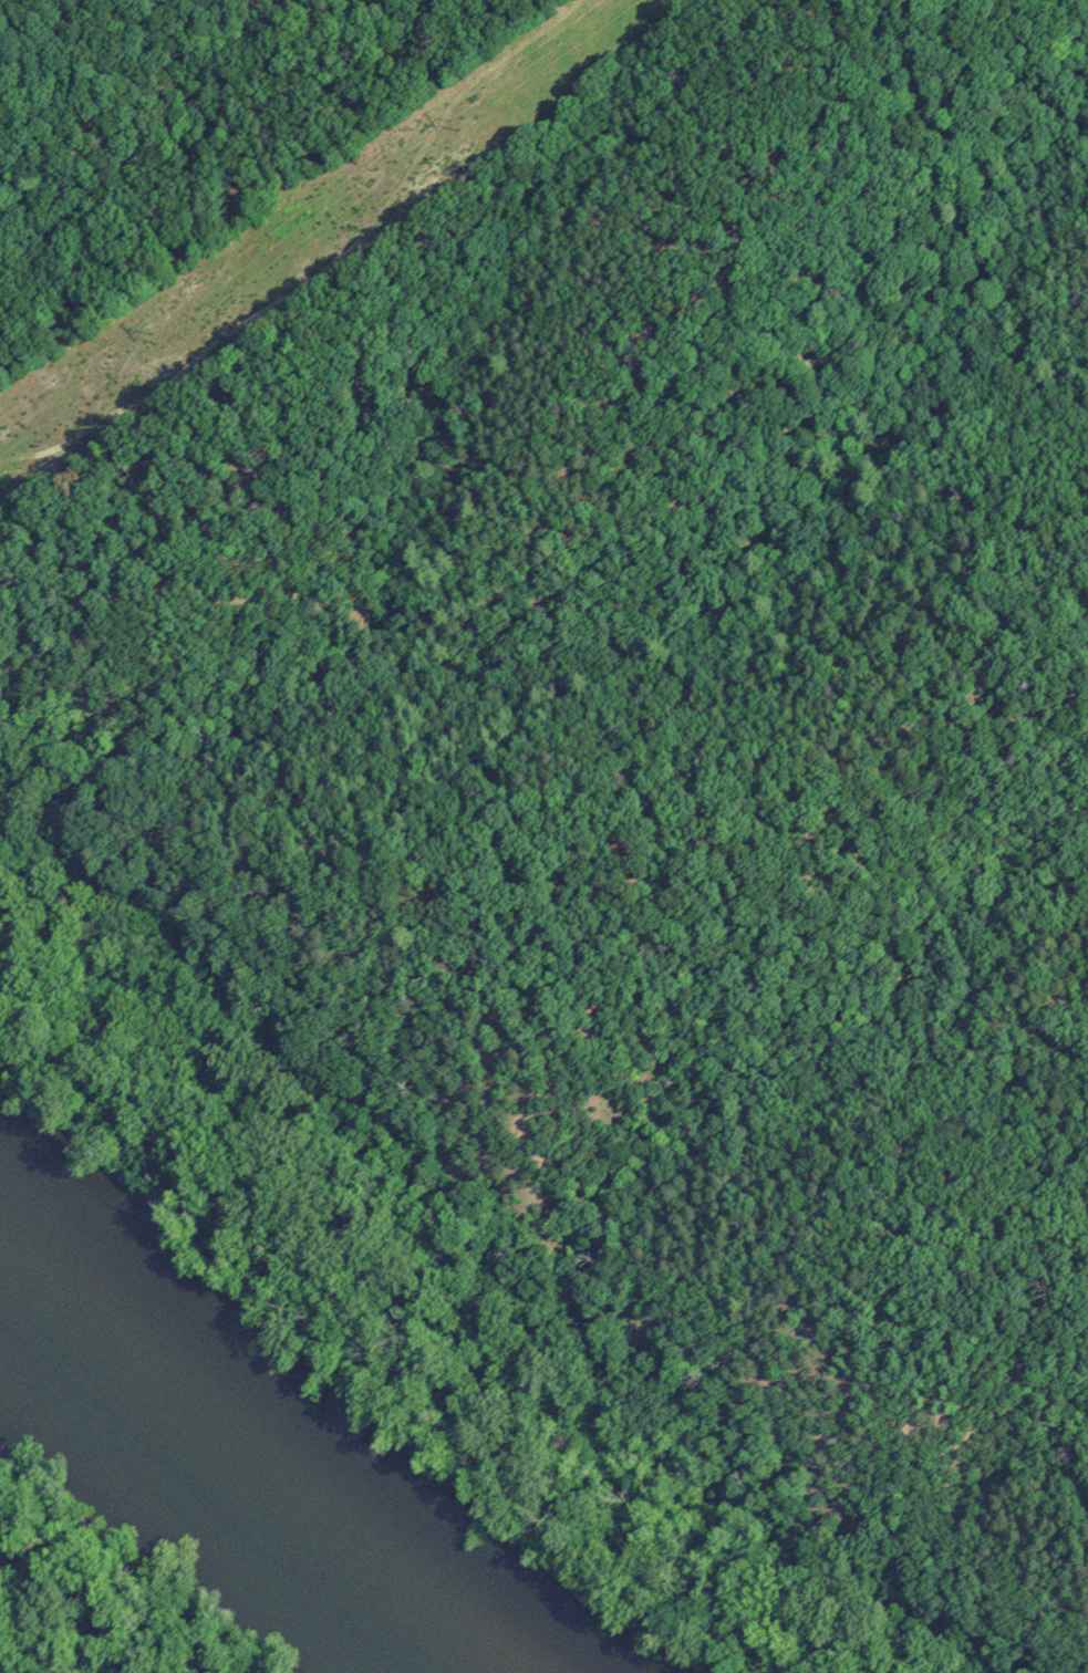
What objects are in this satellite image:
power tower: (455, 128)
power tower: (157, 337)
river: (247, 1479)

